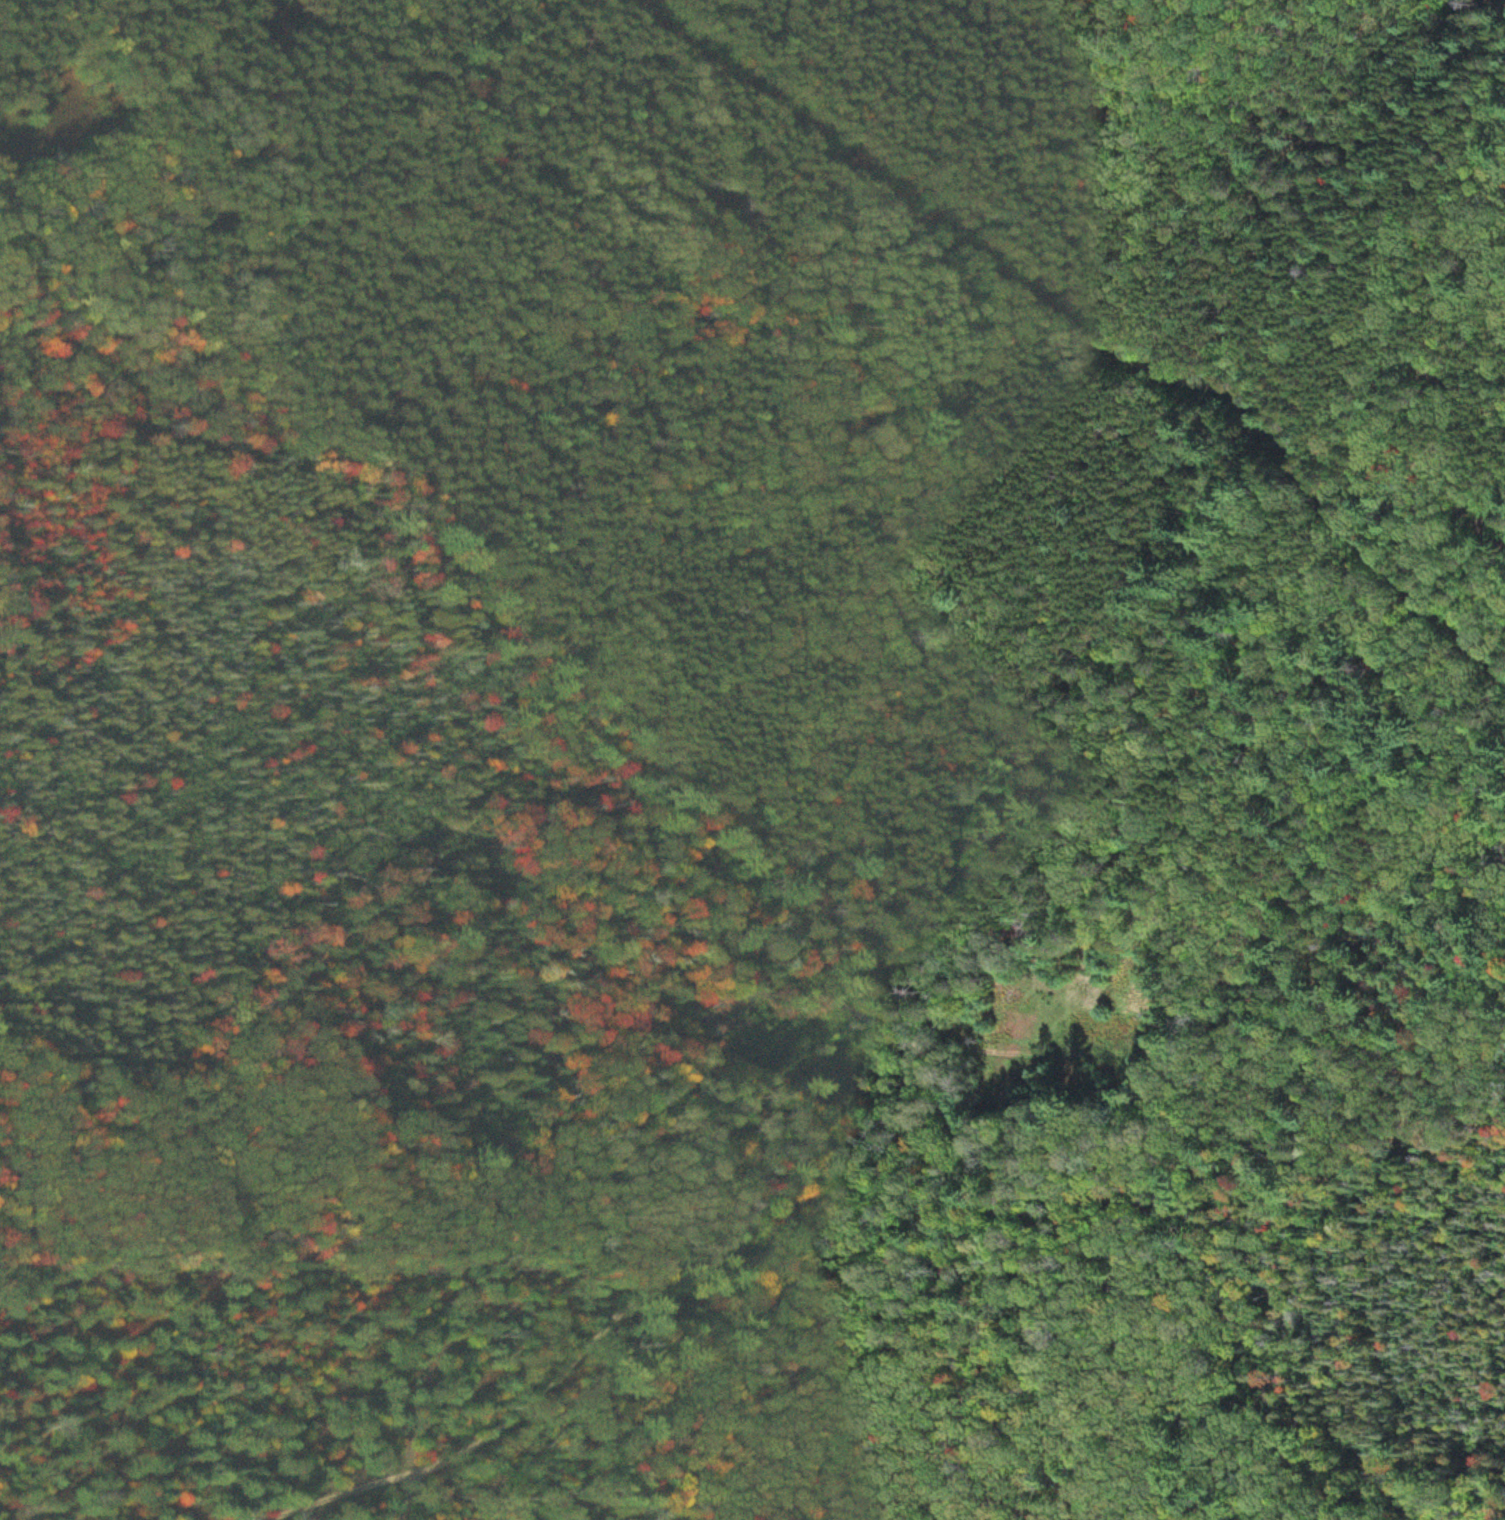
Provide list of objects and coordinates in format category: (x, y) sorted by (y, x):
road: (714, 844)
road: (344, 1498)
road: (414, 1498)

